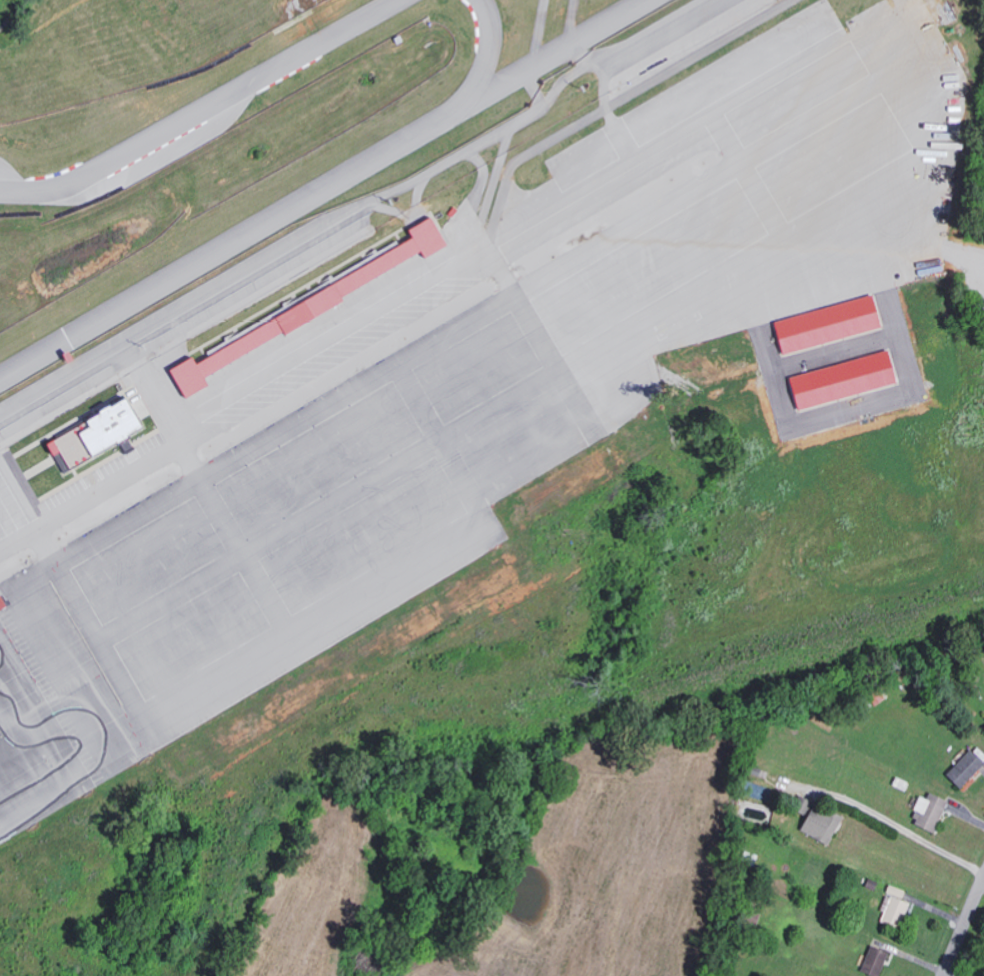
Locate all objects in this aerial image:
raceway: (481, 49)
raceway: (202, 111)
road: (658, 138)
raceway: (320, 188)
raceway: (354, 217)
road: (376, 298)
building: (296, 311)
building: (824, 325)
building: (703, 359)
building: (840, 381)
building: (719, 415)
building: (95, 435)
road: (139, 469)
parking lot: (303, 498)
parking lot: (13, 503)
building: (1, 603)
building: (983, 728)
raceway: (89, 747)
building: (963, 768)
building: (926, 811)
building: (818, 823)
road: (893, 823)
building: (891, 910)
road: (963, 926)
building: (872, 960)
road: (955, 972)
building: (826, 975)

